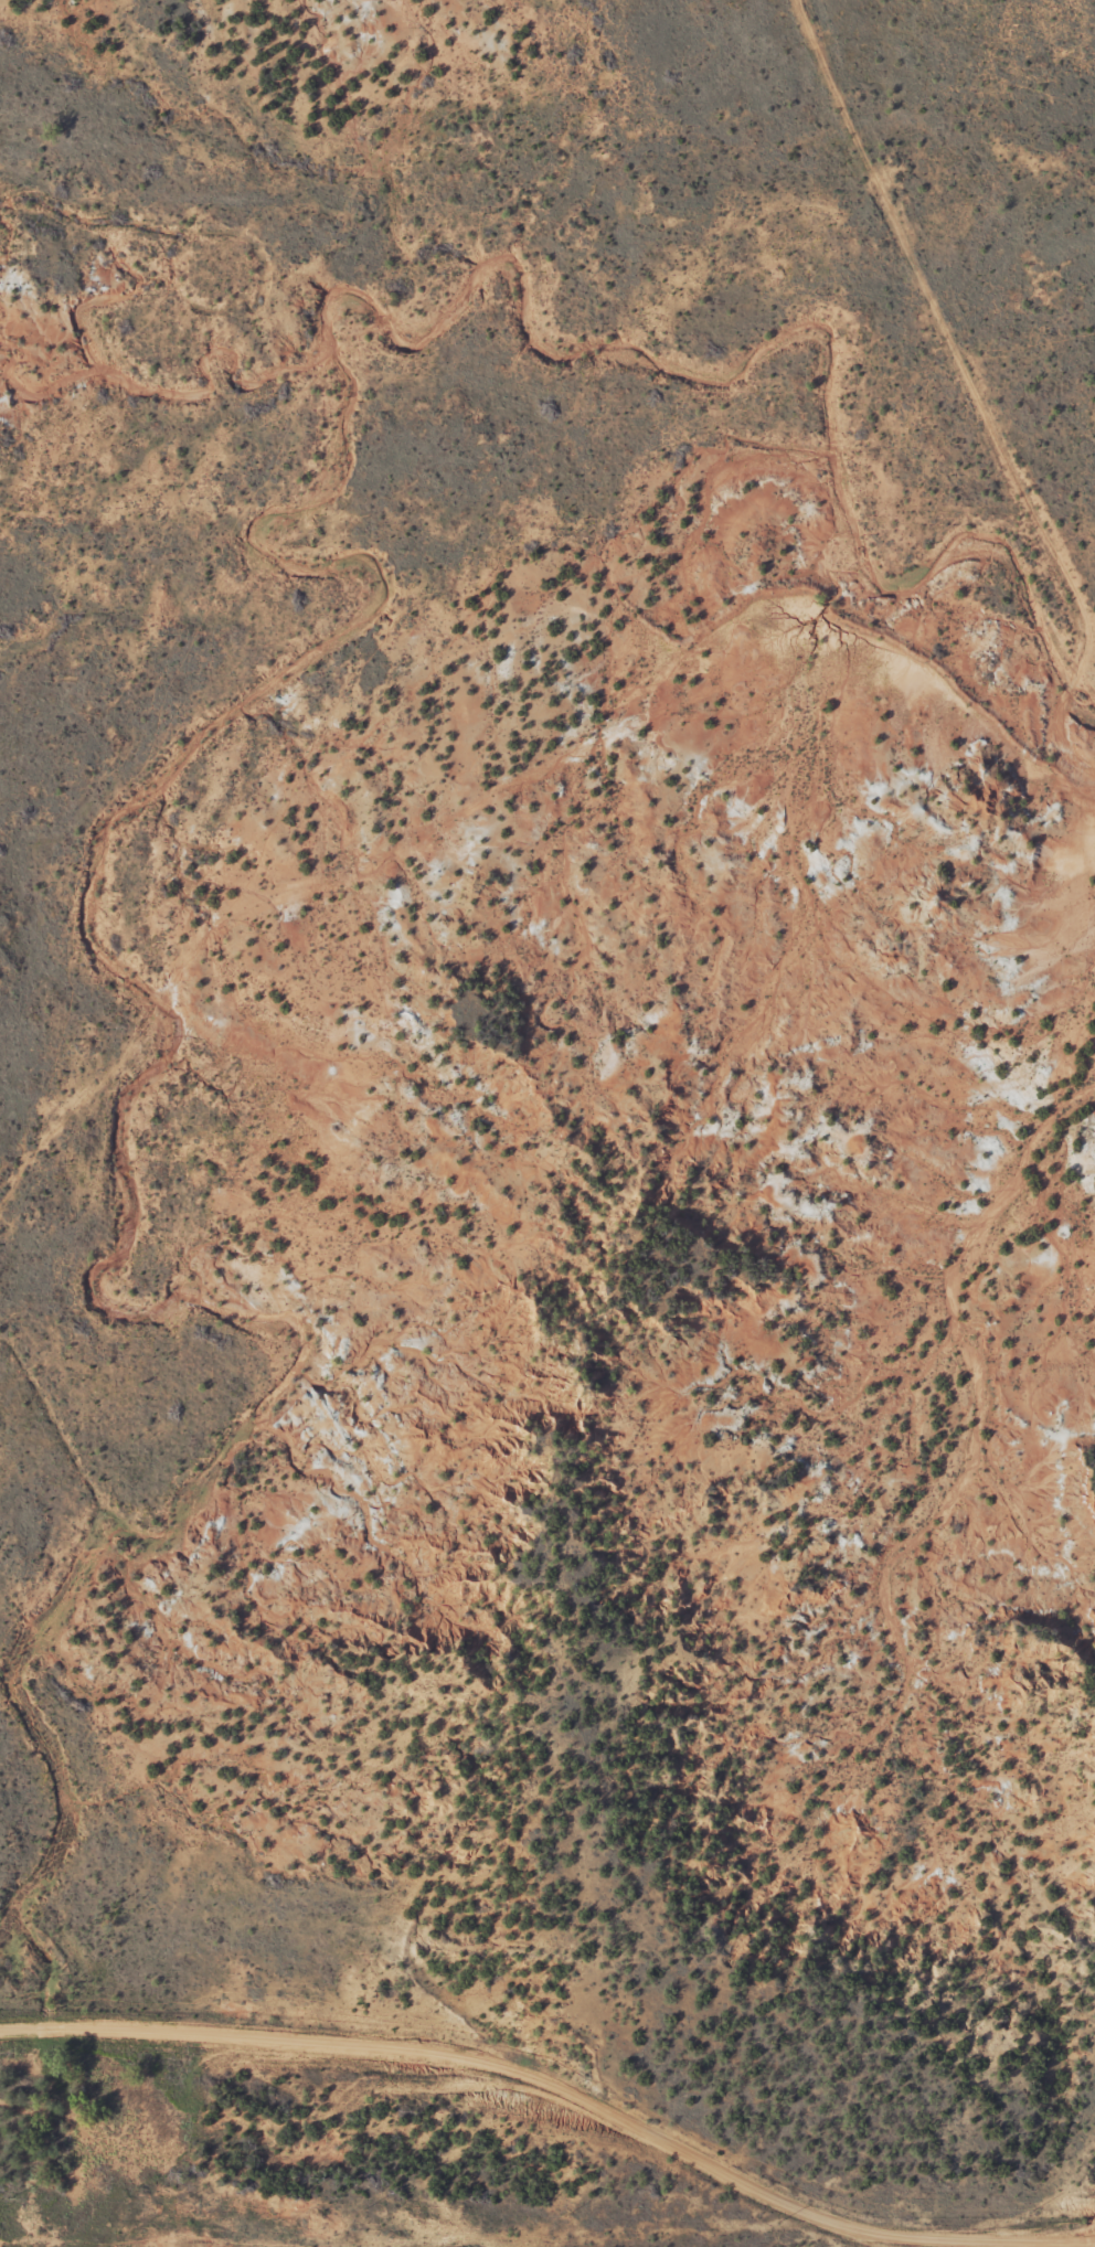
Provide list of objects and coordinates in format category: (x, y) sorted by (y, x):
road: (446, 2096)
road: (21, 2104)

